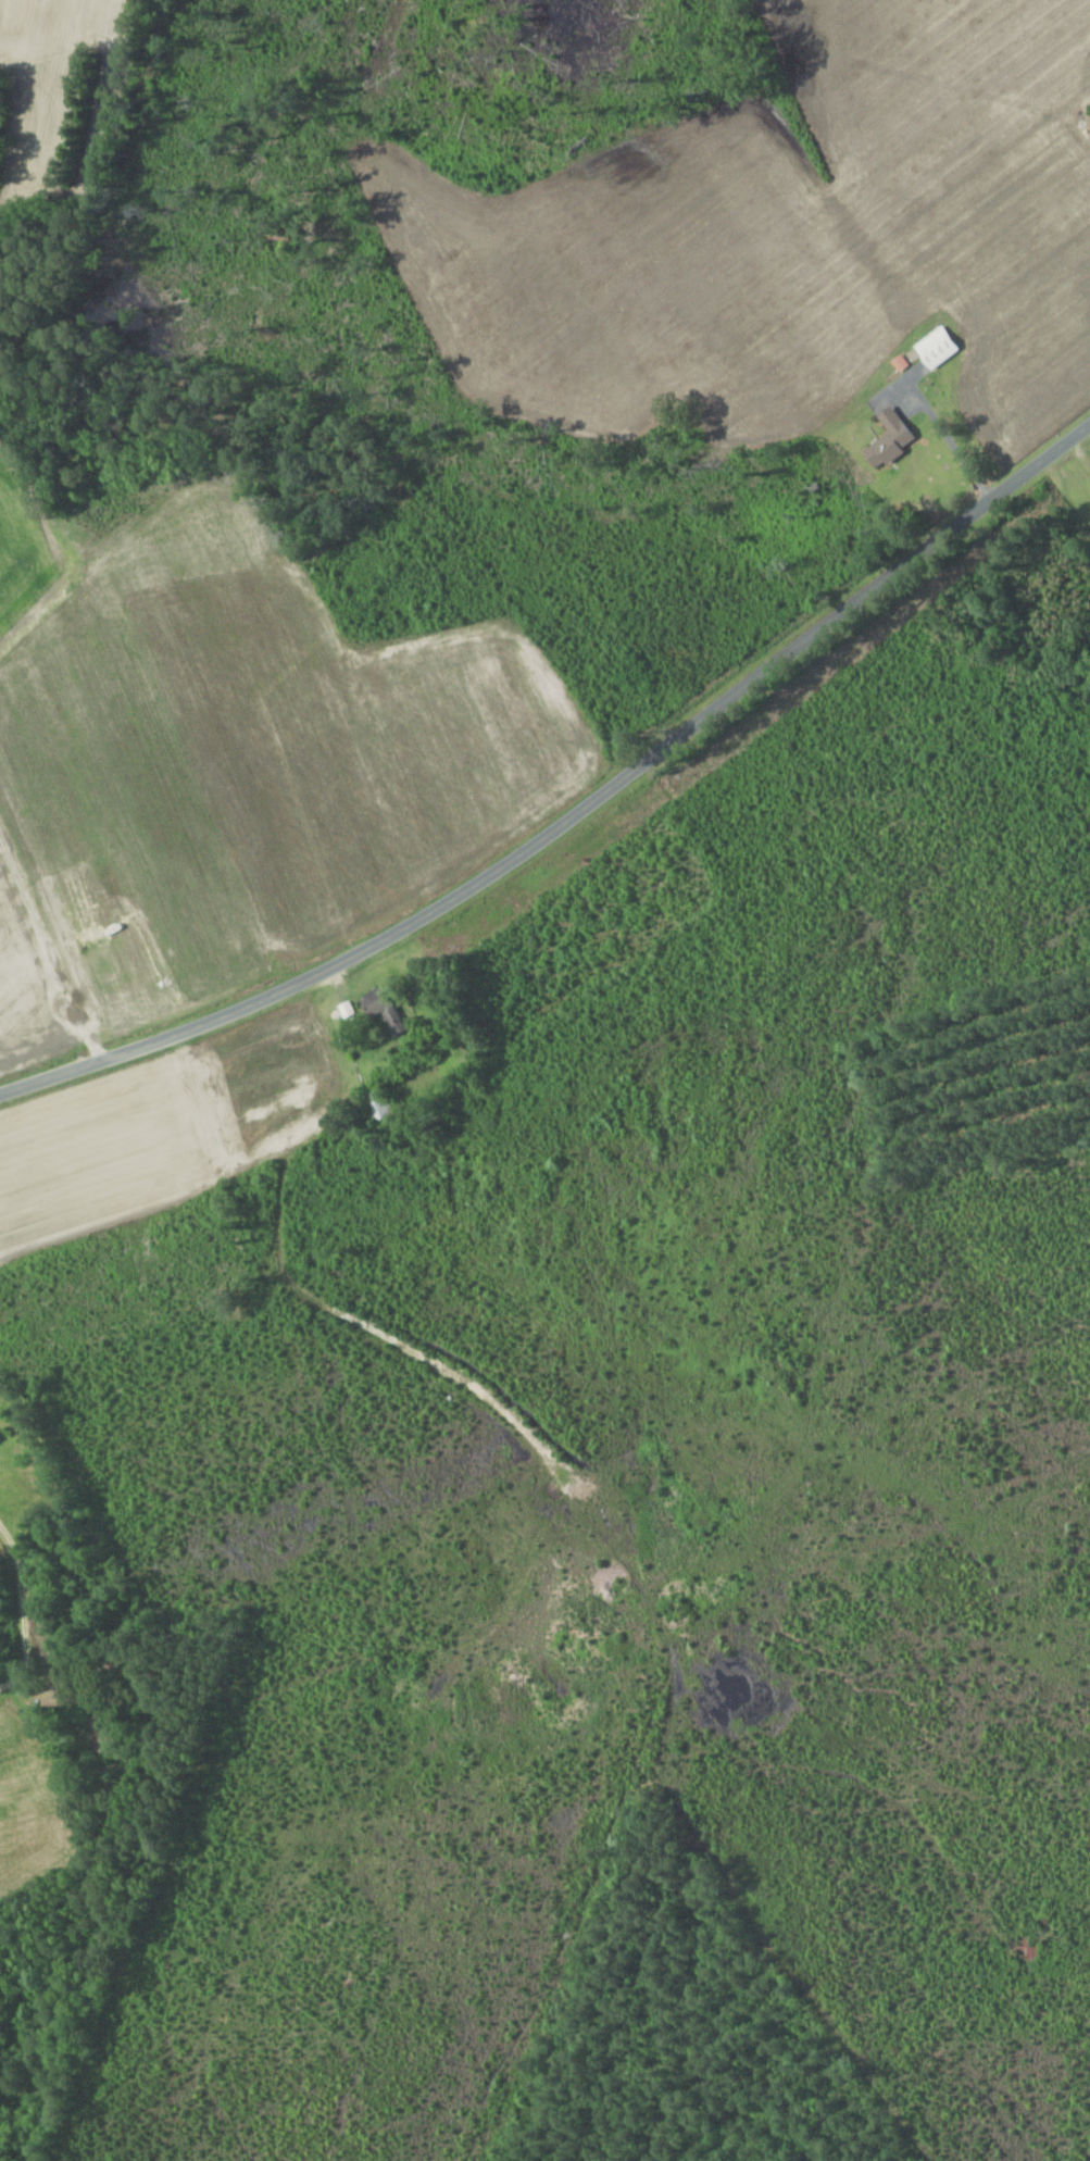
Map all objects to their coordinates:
building: (934, 347)
building: (886, 438)
road: (575, 813)
road: (40, 960)
building: (379, 1008)
building: (375, 1101)

